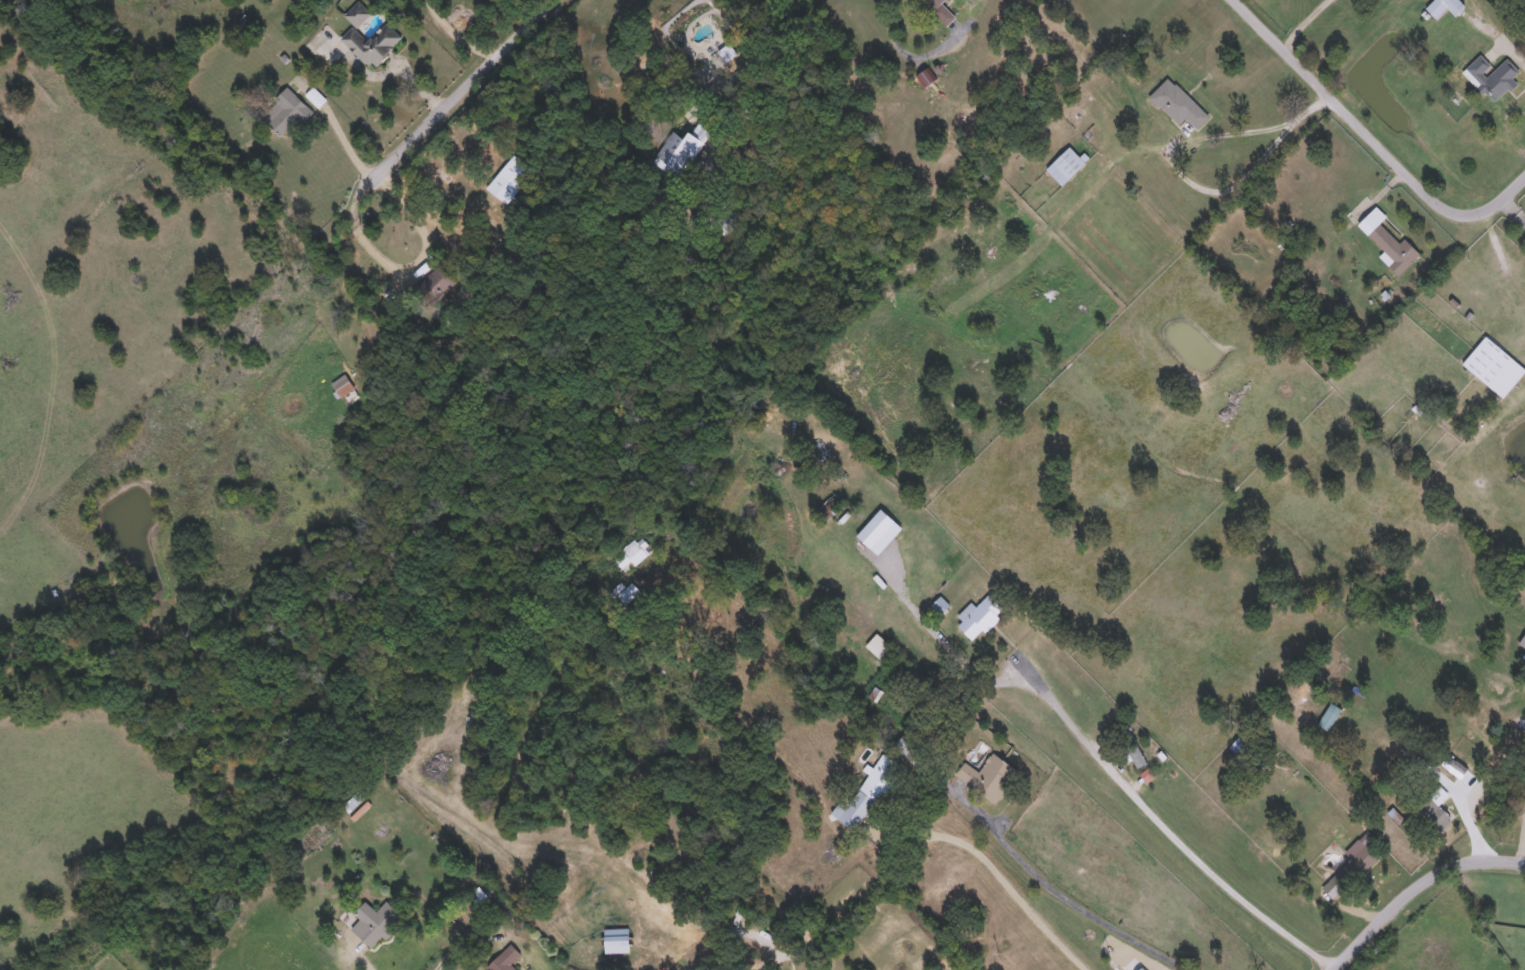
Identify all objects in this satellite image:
building: (1444, 6)
building: (939, 9)
building: (358, 12)
road: (1303, 20)
road: (461, 30)
building: (371, 42)
road: (747, 43)
road: (1514, 51)
road: (905, 52)
building: (1492, 75)
road: (467, 84)
building: (1178, 102)
building: (285, 111)
road: (350, 135)
road: (1375, 135)
building: (676, 149)
building: (1065, 164)
road: (1246, 169)
building: (509, 178)
road: (1516, 206)
building: (723, 218)
building: (1388, 240)
road: (426, 262)
building: (465, 264)
building: (433, 284)
building: (1488, 361)
building: (342, 385)
building: (829, 507)
building: (630, 554)
building: (629, 592)
building: (980, 617)
building: (1522, 640)
building: (881, 647)
building: (1329, 716)
building: (1239, 744)
building: (909, 746)
building: (1131, 746)
building: (988, 776)
building: (866, 792)
road: (1476, 794)
building: (352, 800)
building: (1433, 816)
road: (1168, 823)
building: (1356, 864)
road: (995, 871)
road: (1416, 887)
road: (1080, 899)
building: (379, 924)
building: (616, 939)
road: (458, 941)
building: (505, 958)
road: (371, 961)
building: (1142, 968)

